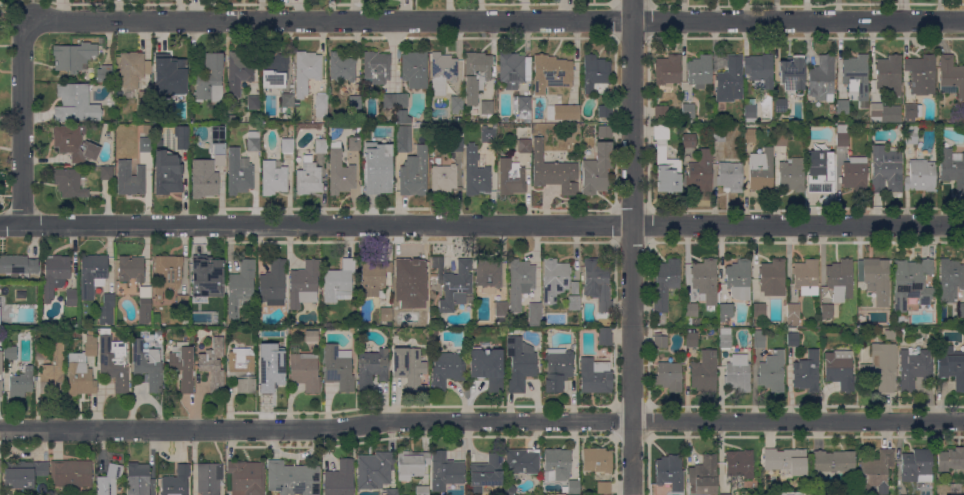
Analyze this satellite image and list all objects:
building: (5, 10)
road: (495, 20)
building: (73, 56)
building: (341, 67)
building: (376, 68)
building: (133, 69)
building: (274, 69)
building: (414, 69)
building: (668, 69)
building: (514, 70)
building: (306, 71)
building: (700, 71)
building: (760, 71)
building: (239, 72)
building: (443, 72)
building: (103, 73)
building: (551, 73)
building: (792, 74)
building: (855, 74)
building: (889, 74)
building: (921, 74)
building: (476, 75)
building: (596, 75)
building: (177, 76)
building: (951, 76)
building: (211, 79)
building: (822, 79)
building: (731, 80)
building: (389, 100)
building: (401, 100)
building: (145, 101)
building: (286, 101)
building: (253, 103)
building: (456, 104)
building: (75, 105)
building: (320, 105)
building: (781, 105)
building: (487, 107)
building: (842, 107)
building: (523, 108)
building: (605, 111)
building: (661, 111)
building: (688, 111)
building: (750, 111)
building: (566, 112)
building: (912, 112)
building: (885, 113)
building: (400, 116)
building: (184, 118)
road: (22, 123)
building: (661, 131)
building: (605, 132)
building: (325, 133)
building: (719, 134)
building: (909, 134)
building: (750, 135)
building: (842, 135)
building: (488, 136)
building: (182, 137)
building: (403, 139)
building: (781, 139)
building: (689, 141)
building: (253, 142)
building: (74, 144)
building: (219, 144)
building: (356, 144)
building: (457, 144)
building: (145, 145)
building: (524, 145)
building: (287, 146)
building: (321, 146)
building: (389, 146)
building: (952, 167)
building: (597, 169)
building: (821, 169)
building: (667, 170)
building: (886, 170)
building: (553, 171)
building: (761, 171)
building: (239, 172)
building: (414, 172)
building: (476, 172)
building: (701, 172)
building: (106, 173)
building: (167, 173)
building: (340, 174)
building: (855, 174)
building: (730, 176)
building: (792, 176)
building: (921, 176)
building: (274, 177)
building: (511, 177)
building: (309, 178)
building: (130, 179)
building: (376, 179)
building: (443, 179)
building: (204, 181)
building: (68, 184)
road: (482, 226)
road: (631, 247)
building: (17, 265)
building: (131, 269)
building: (167, 274)
building: (55, 275)
building: (92, 275)
building: (488, 275)
building: (433, 276)
building: (373, 277)
building: (806, 277)
building: (773, 278)
building: (739, 279)
building: (877, 279)
building: (204, 280)
building: (555, 280)
building: (840, 280)
building: (950, 280)
building: (339, 281)
building: (705, 281)
building: (520, 282)
building: (666, 282)
building: (273, 284)
building: (304, 284)
building: (454, 284)
building: (912, 284)
building: (240, 286)
building: (409, 286)
building: (597, 286)
building: (574, 288)
building: (72, 298)
building: (182, 302)
building: (574, 303)
building: (144, 305)
building: (107, 309)
building: (759, 310)
building: (961, 310)
building: (725, 311)
building: (827, 311)
building: (690, 312)
building: (500, 313)
building: (259, 314)
building: (386, 314)
building: (534, 314)
building: (793, 314)
building: (435, 331)
building: (890, 335)
building: (313, 336)
building: (605, 337)
building: (725, 338)
building: (692, 339)
building: (759, 339)
building: (793, 340)
building: (660, 341)
building: (262, 343)
building: (10, 353)
building: (42, 353)
building: (114, 361)
building: (519, 362)
building: (181, 364)
building: (147, 365)
building: (213, 366)
building: (487, 366)
building: (951, 366)
building: (338, 367)
building: (881, 367)
building: (409, 368)
building: (82, 369)
building: (372, 369)
building: (446, 369)
building: (558, 369)
building: (839, 369)
building: (913, 369)
building: (242, 370)
building: (53, 371)
building: (704, 371)
building: (305, 372)
building: (772, 372)
building: (807, 372)
building: (738, 373)
building: (273, 376)
building: (595, 376)
building: (669, 376)
building: (1, 378)
building: (21, 383)
road: (481, 422)
building: (950, 459)
building: (597, 460)
building: (522, 461)
building: (786, 461)
building: (833, 462)
building: (739, 463)
building: (411, 464)
building: (557, 464)
building: (0, 466)
building: (917, 466)
building: (375, 470)
building: (445, 471)
building: (670, 472)
building: (877, 472)
building: (70, 473)
building: (23, 474)
building: (486, 474)
building: (703, 476)
building: (246, 477)
building: (209, 478)
building: (293, 478)
building: (138, 479)
building: (339, 479)
building: (109, 480)
building: (176, 482)
building: (574, 487)
building: (604, 488)
building: (422, 490)
building: (510, 490)
building: (392, 492)
building: (725, 494)

